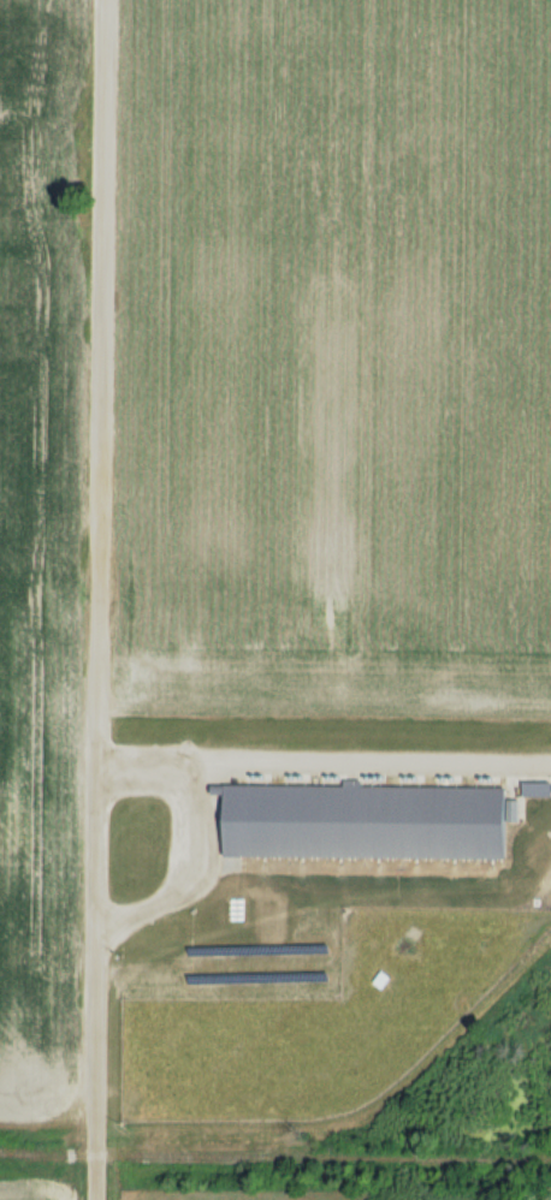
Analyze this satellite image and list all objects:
road: (99, 600)
road: (189, 838)
railway: (37, 1154)
railway: (331, 1159)

